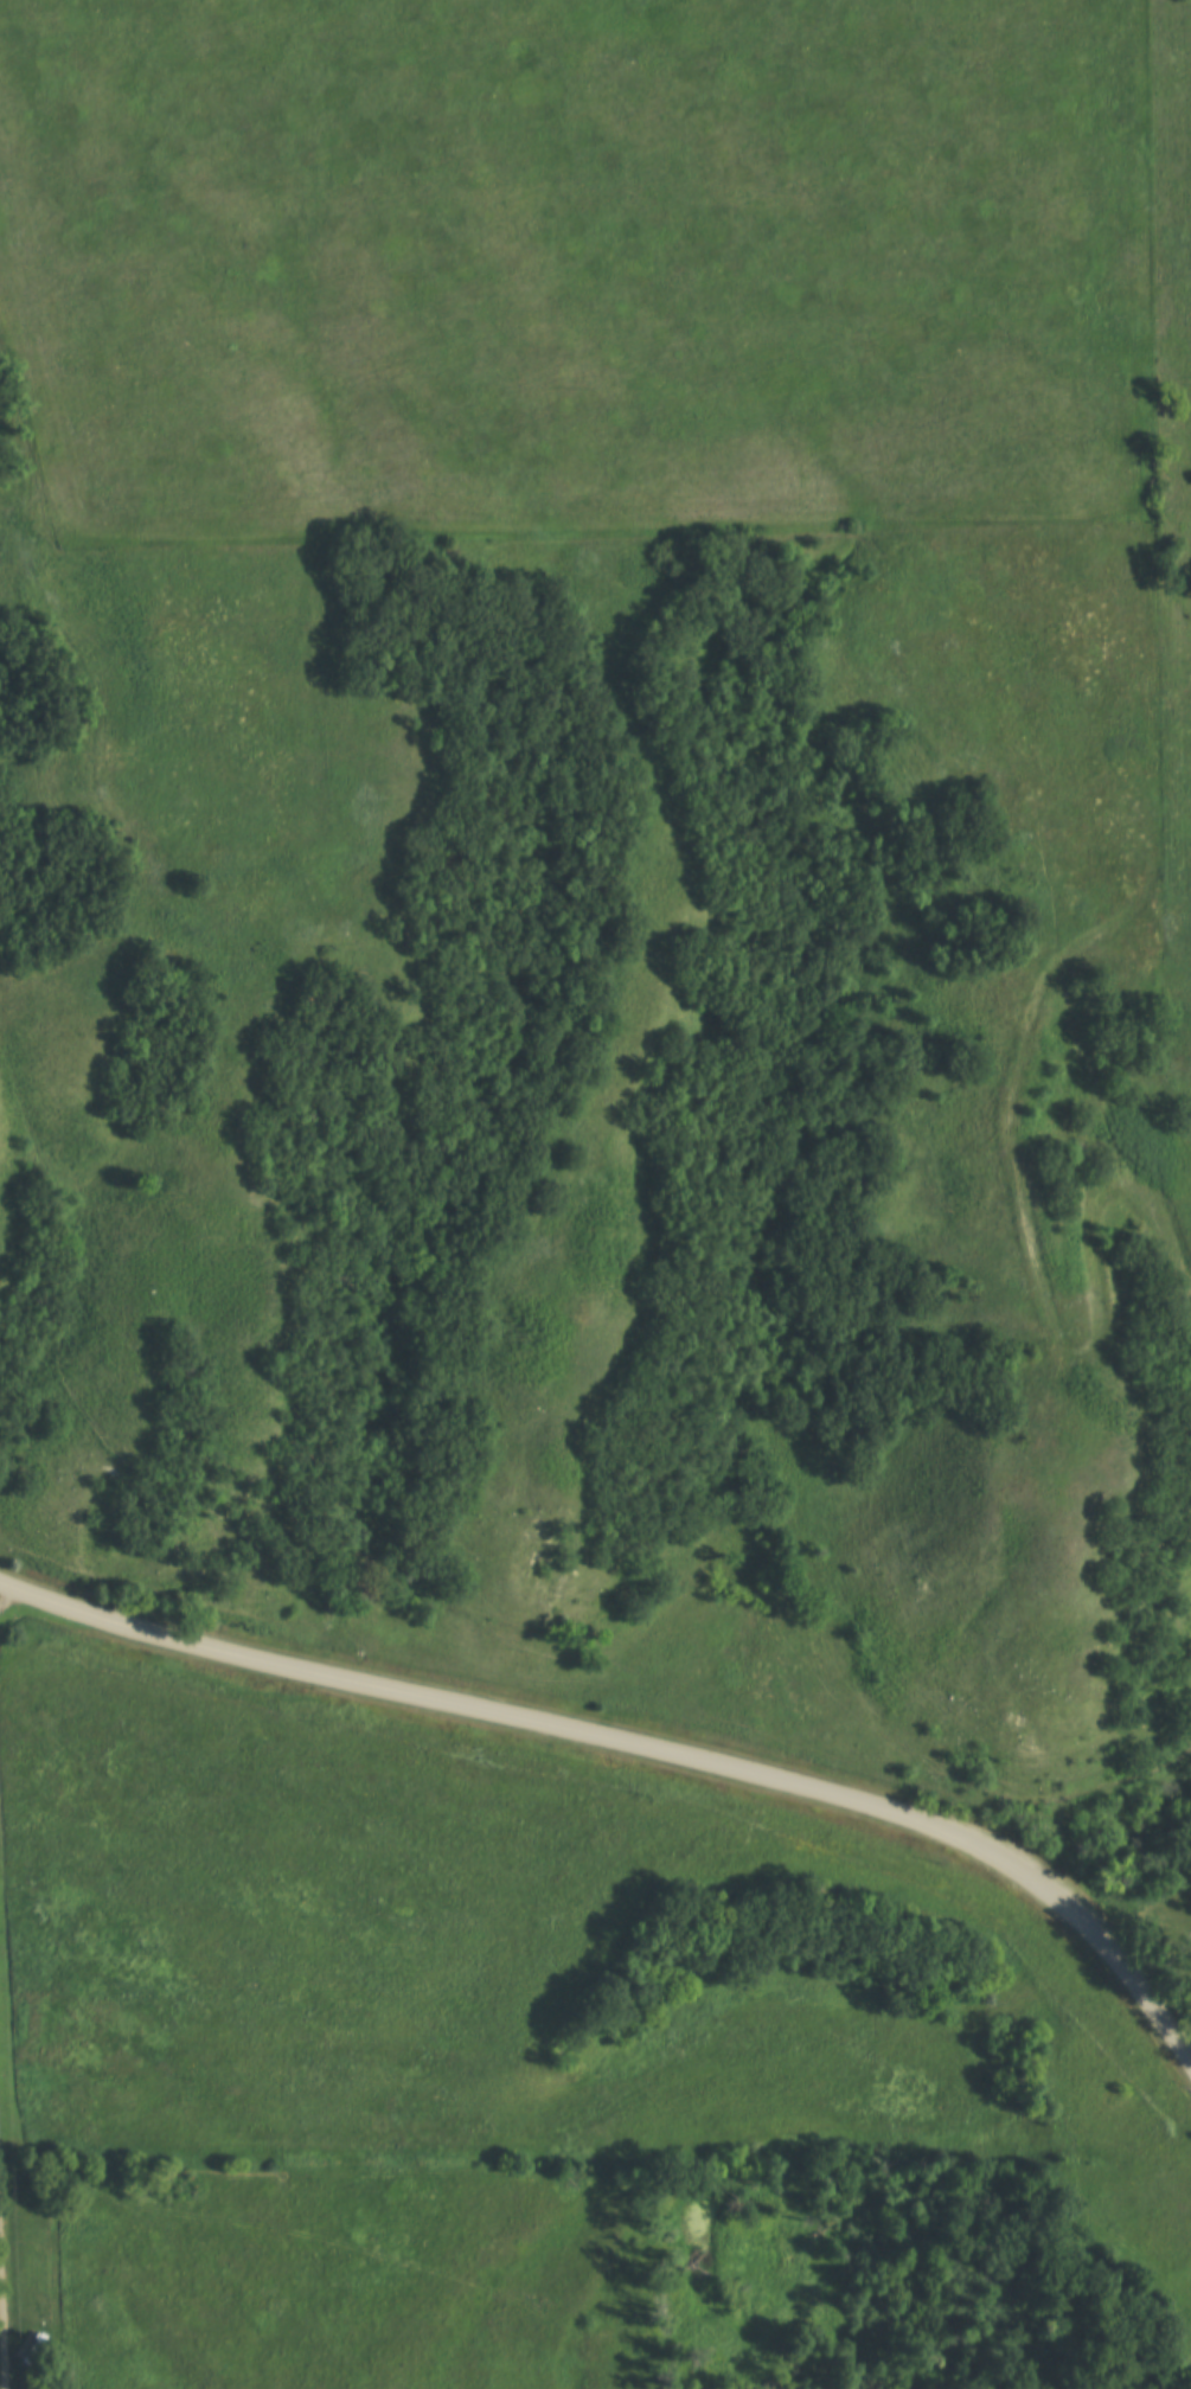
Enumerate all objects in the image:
road: (639, 1740)

